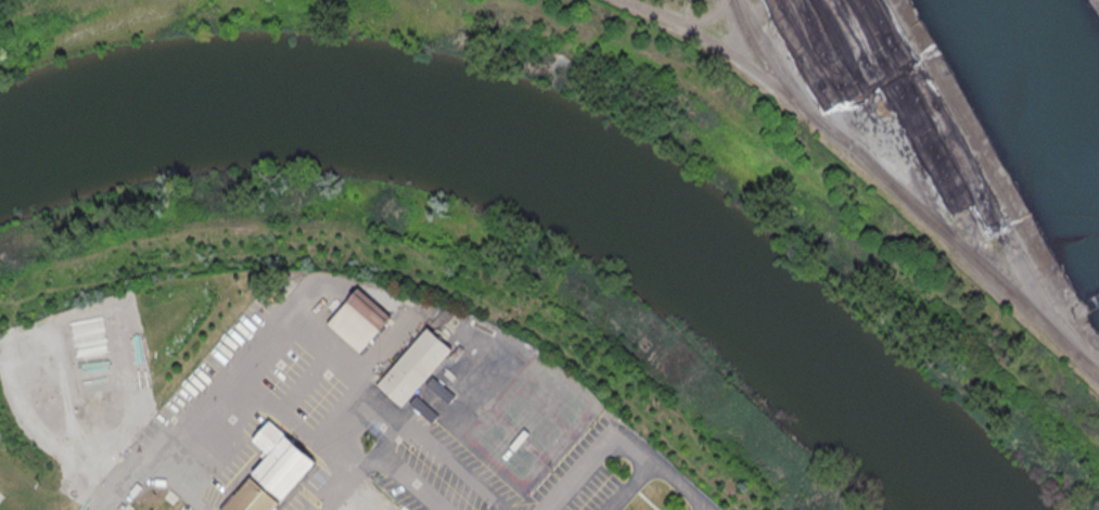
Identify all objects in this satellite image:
river: (538, 163)
park: (427, 293)
building: (359, 319)
building: (413, 366)
road: (305, 382)
road: (216, 404)
road: (414, 407)
road: (397, 413)
road: (344, 416)
road: (299, 426)
road: (623, 432)
building: (280, 460)
road: (411, 481)
road: (632, 486)
road: (184, 487)
road: (341, 497)
building: (250, 498)

